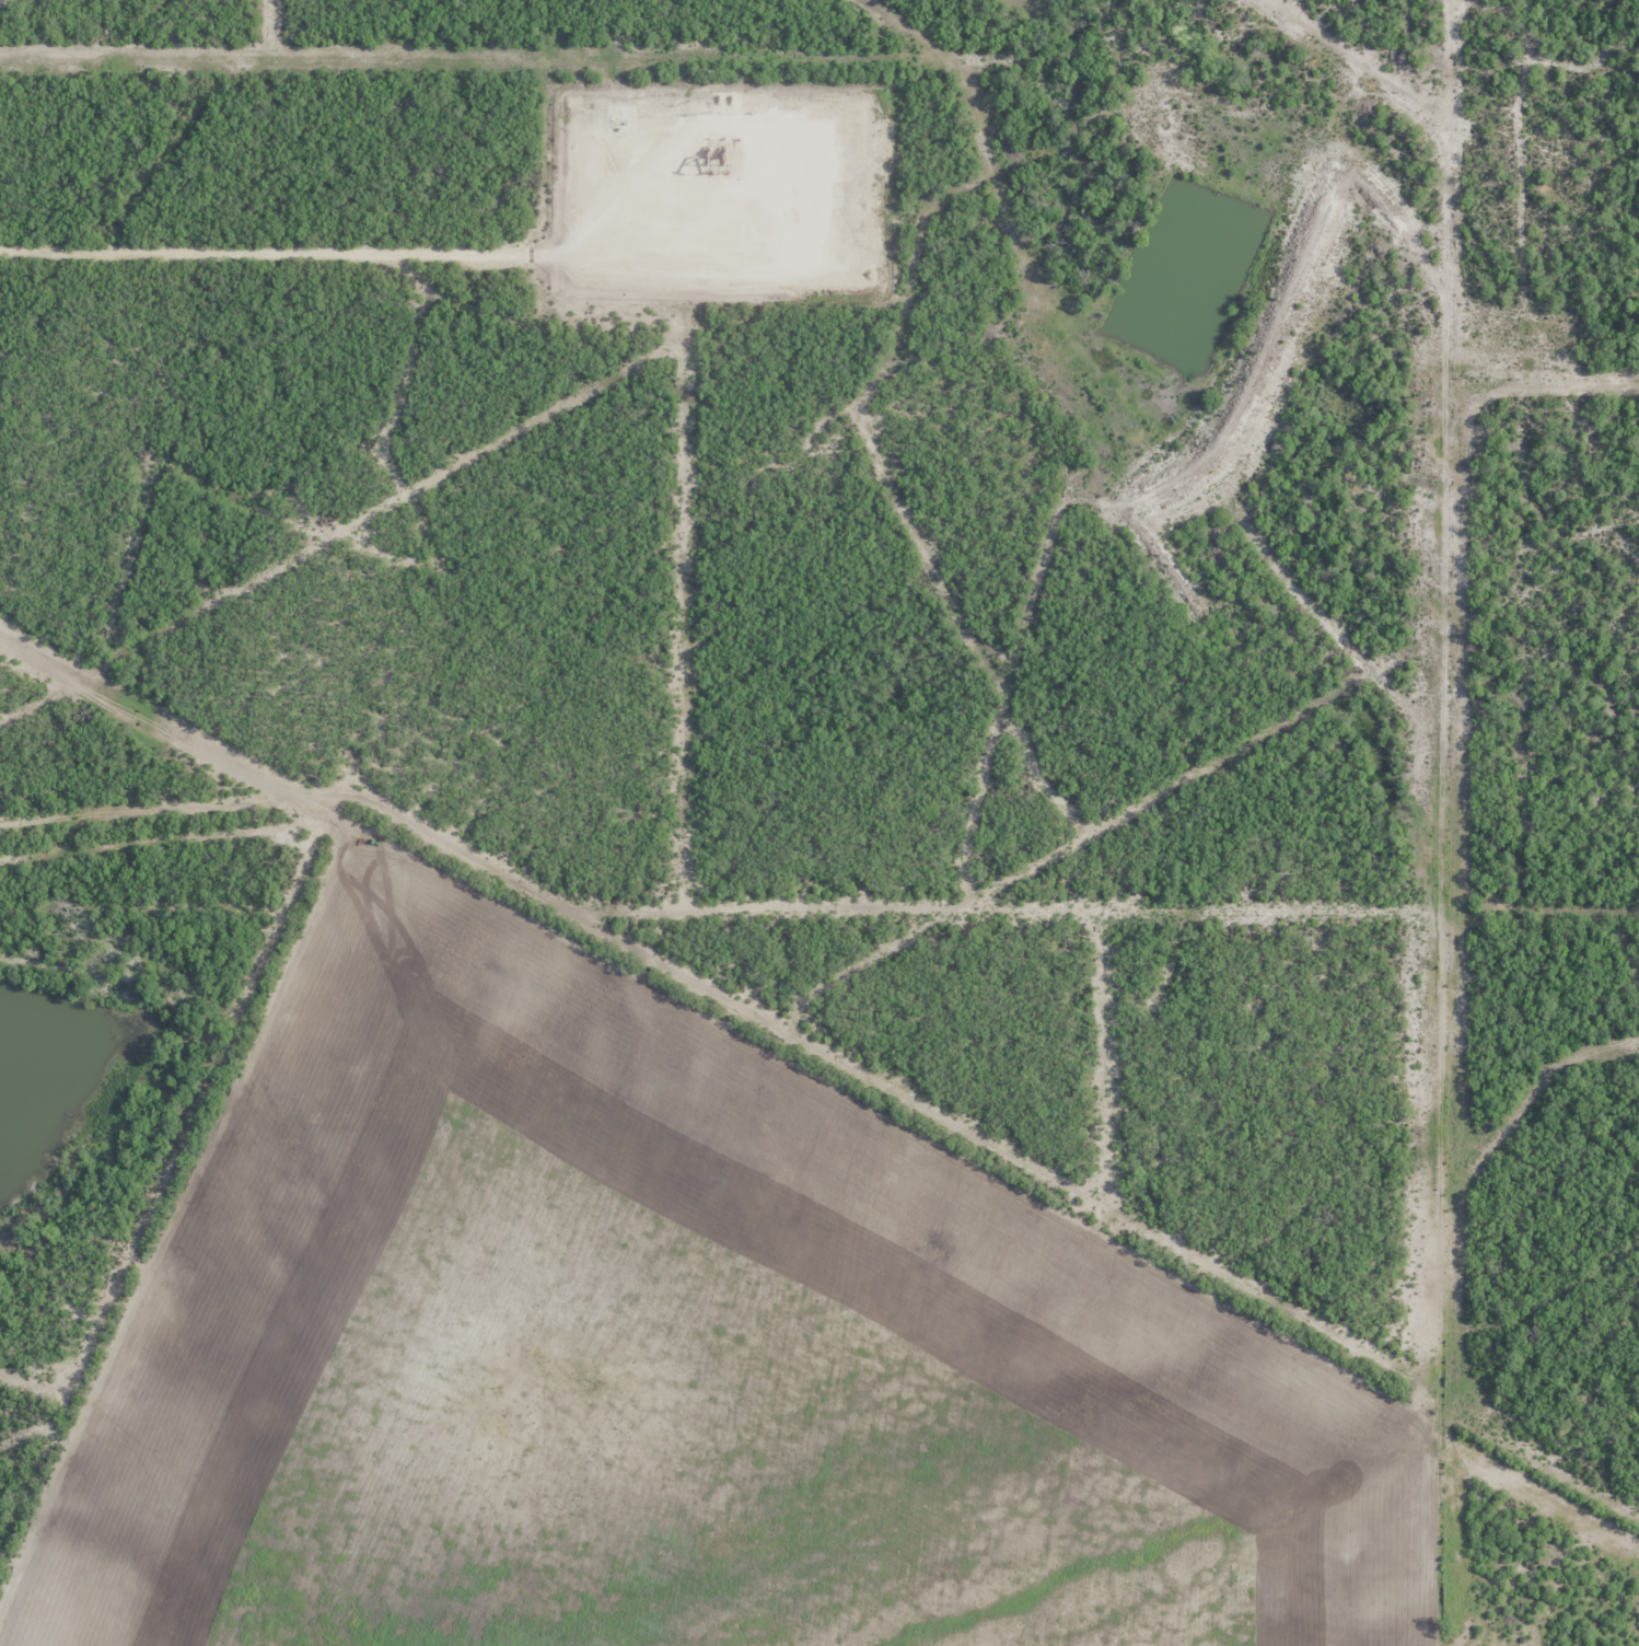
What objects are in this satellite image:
road: (1542, 1482)

